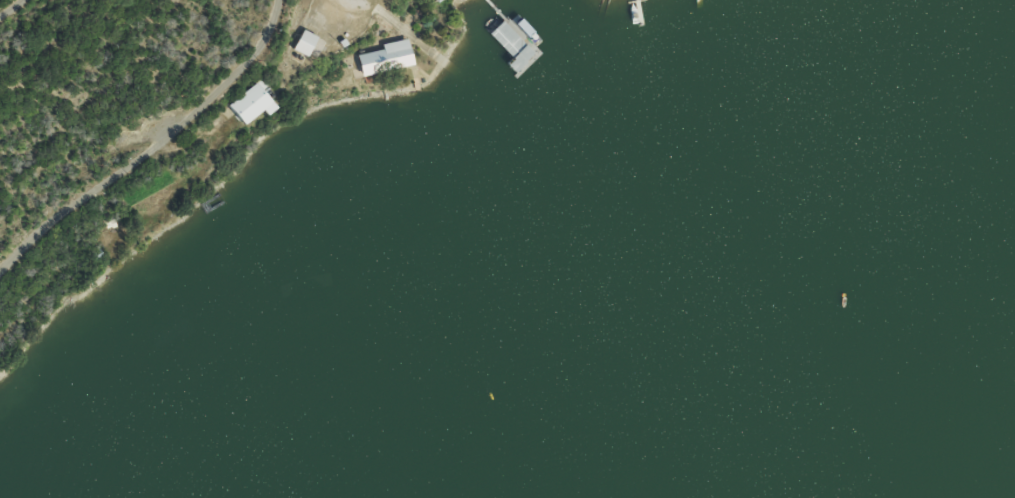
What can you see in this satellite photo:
building: (743, 0)
building: (435, 1)
road: (7, 6)
building: (303, 44)
building: (508, 46)
building: (383, 60)
building: (248, 106)
road: (151, 144)

